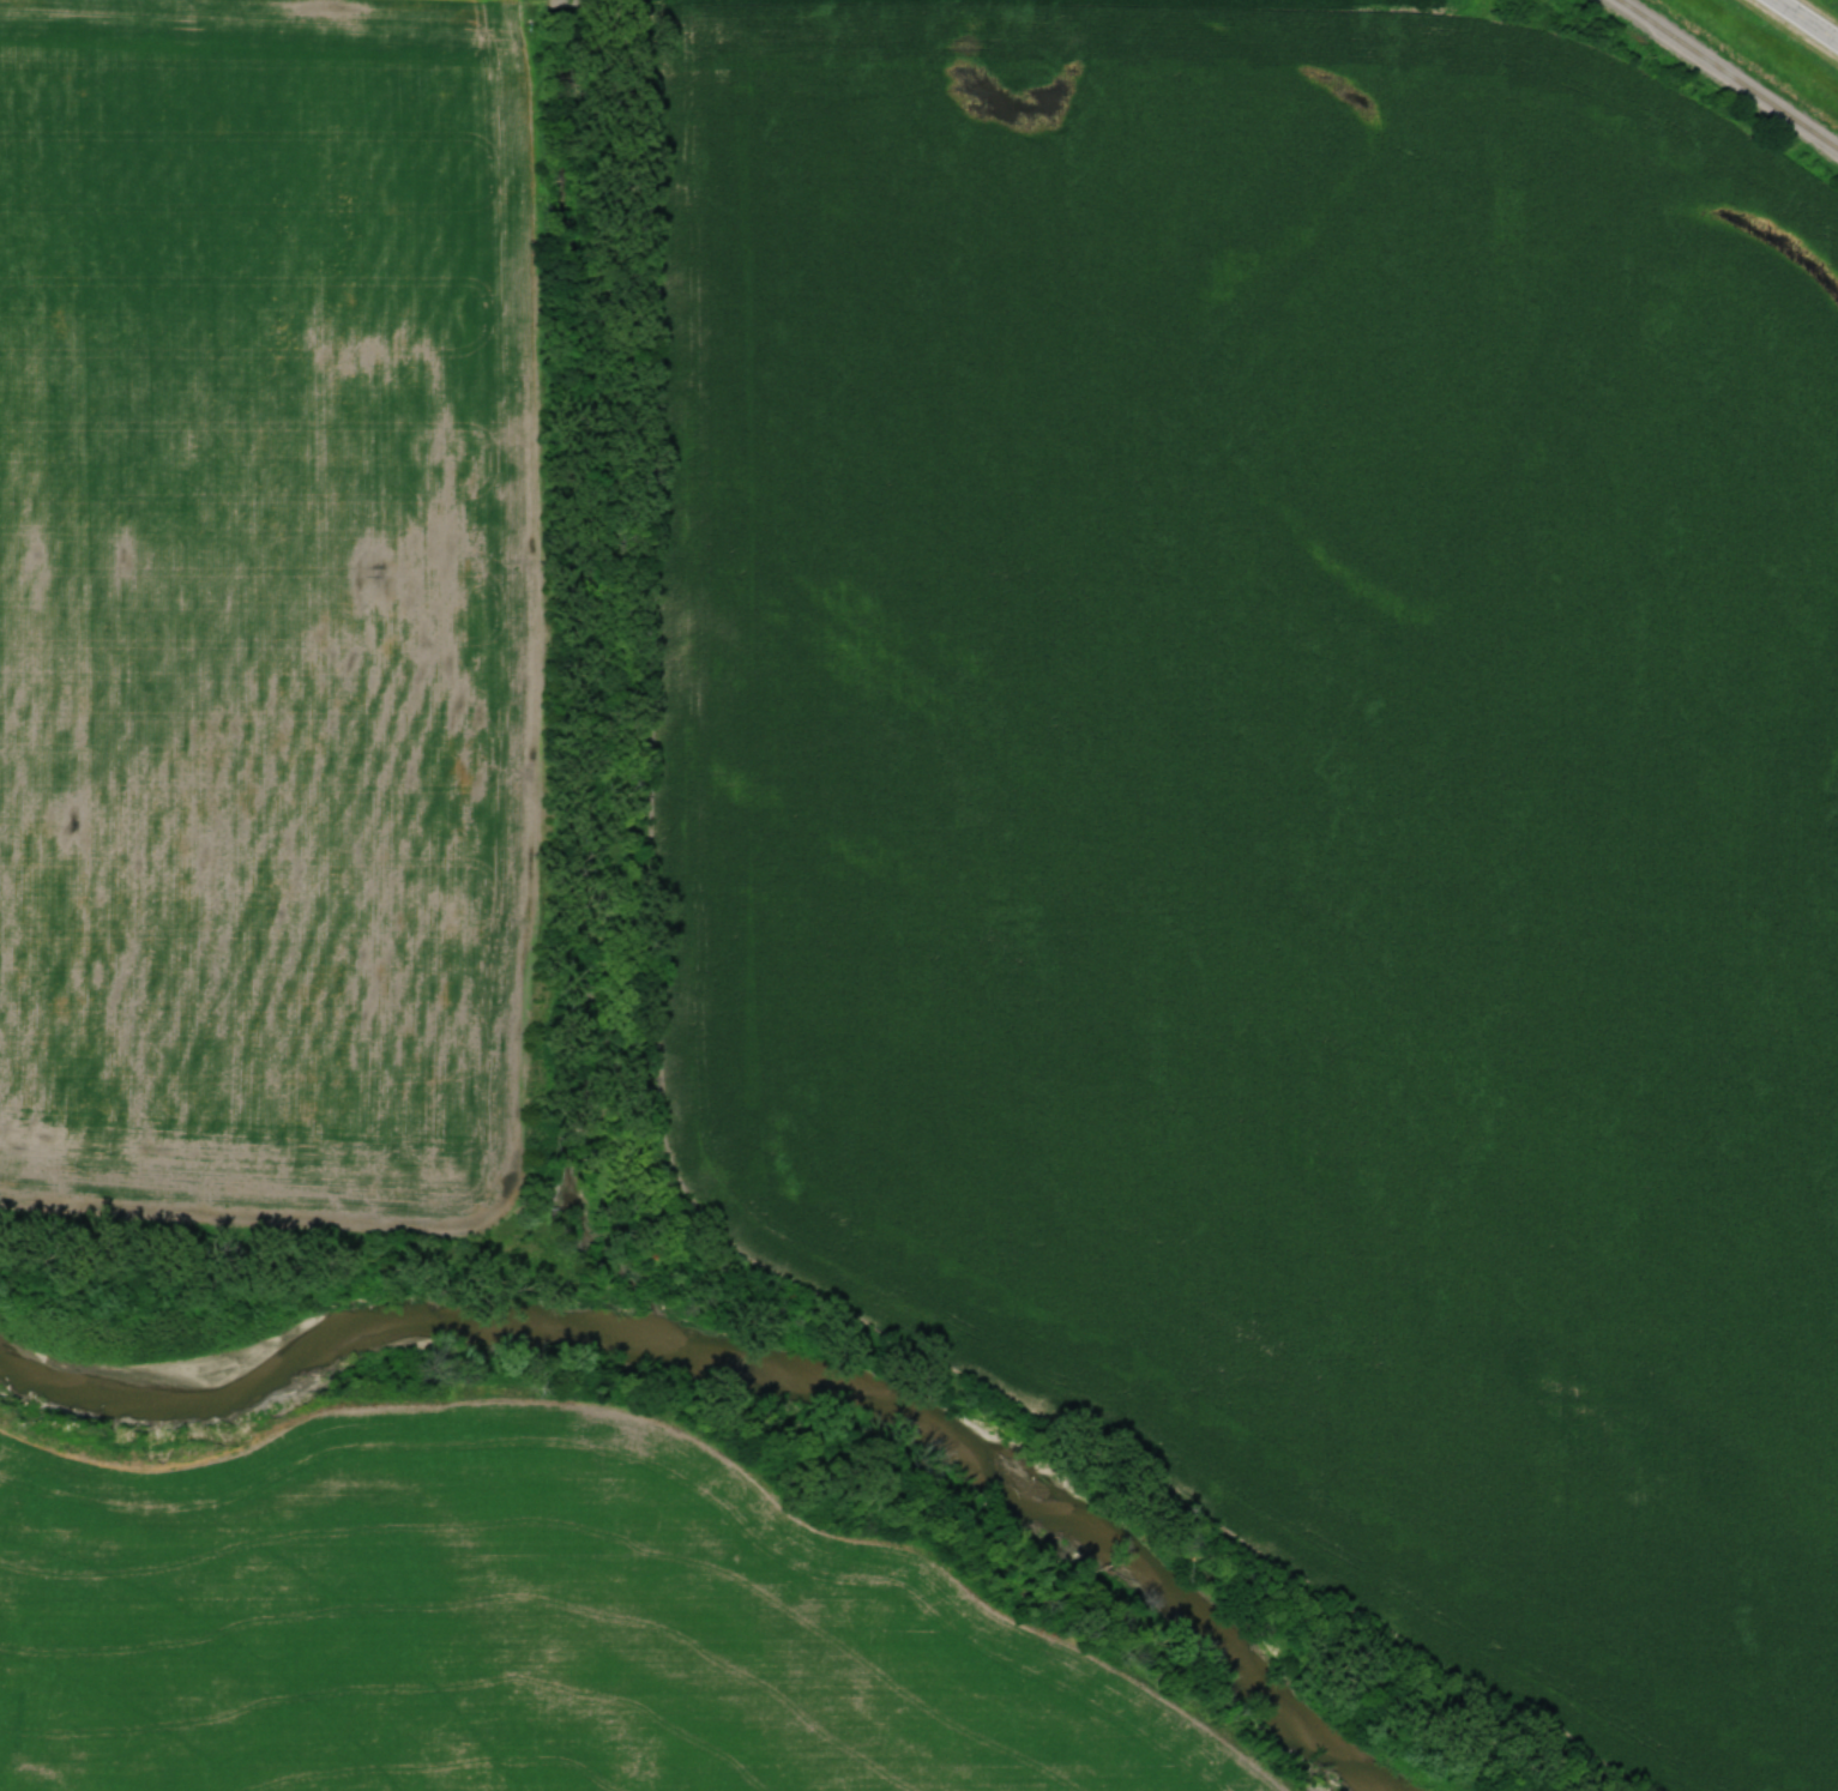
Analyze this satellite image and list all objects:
road: (561, 1)
road: (1803, 23)
railway: (1730, 73)
crop: (1286, 795)
river: (754, 1361)

